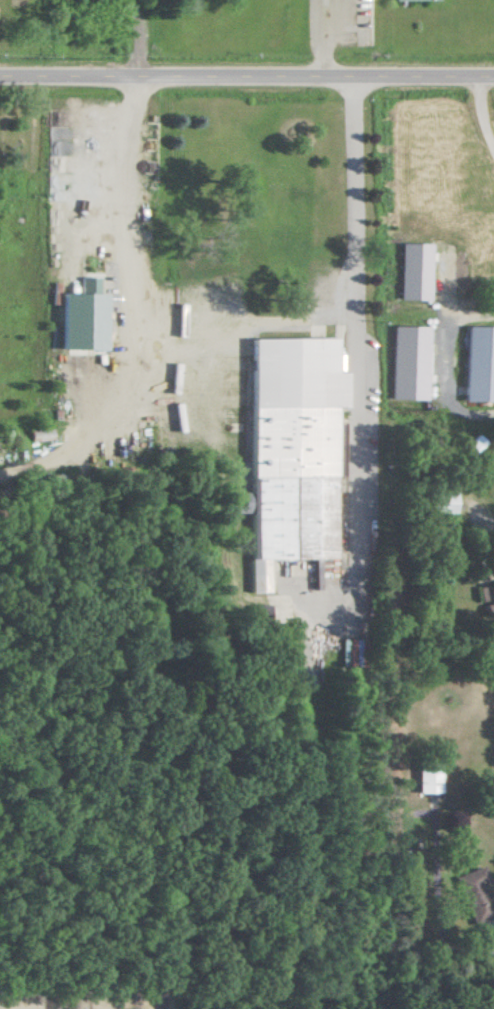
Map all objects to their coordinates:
parking lot: (337, 20)
park: (328, 22)
road: (139, 38)
road: (247, 78)
road: (479, 119)
road: (123, 311)
building: (83, 317)
road: (355, 355)
building: (479, 363)
building: (297, 446)
building: (447, 500)
road: (476, 526)
building: (487, 598)
building: (428, 773)
building: (471, 892)

